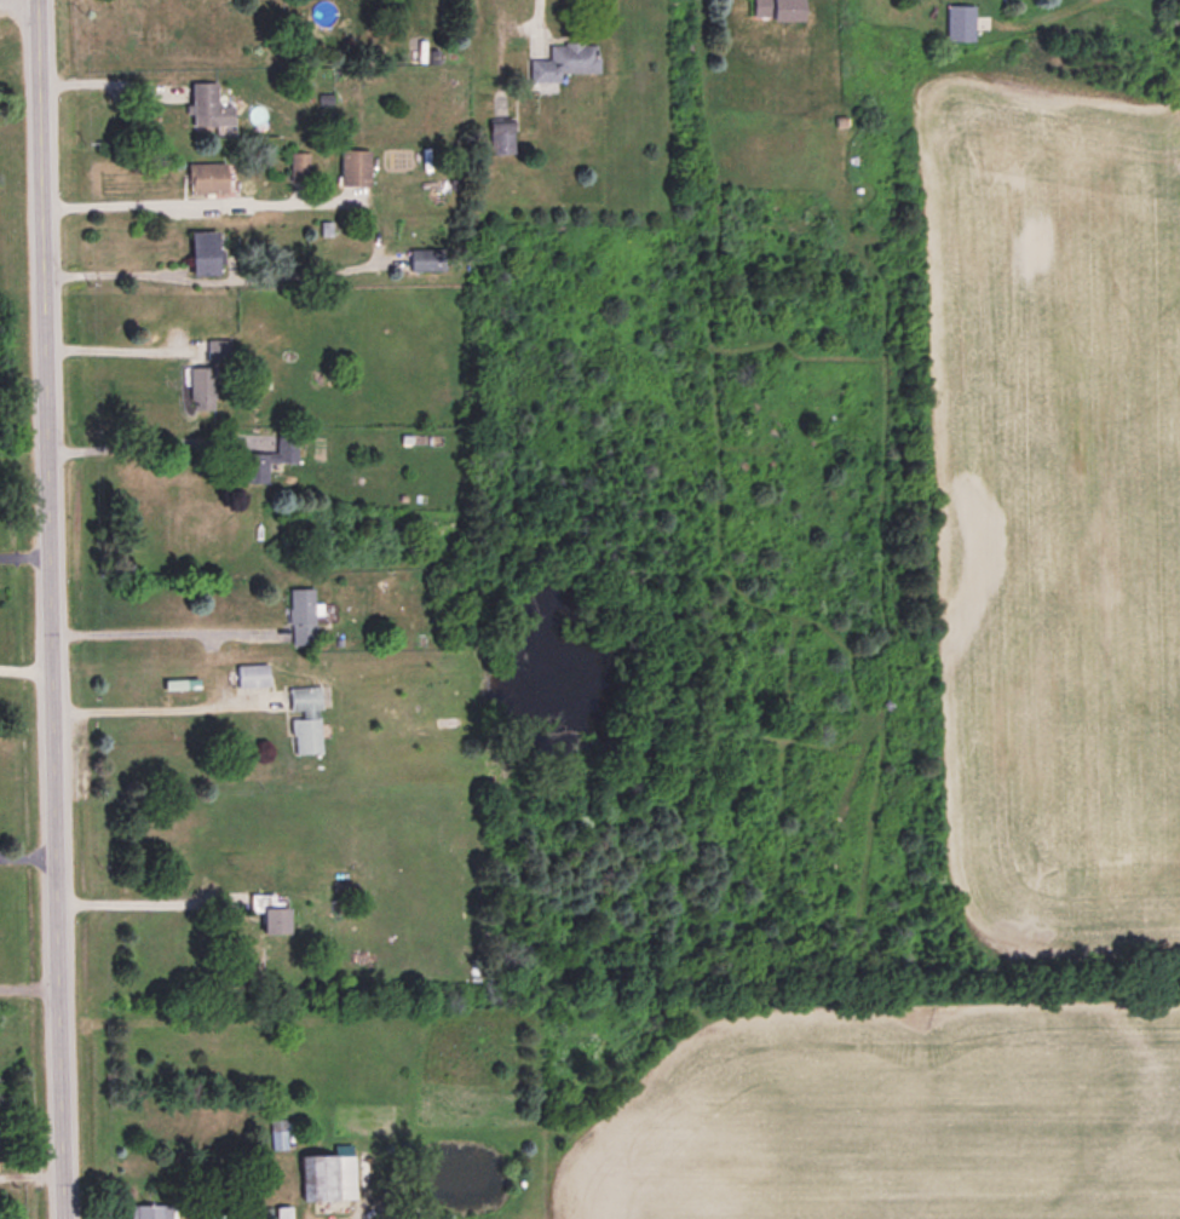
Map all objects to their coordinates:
building: (782, 8)
road: (540, 16)
building: (962, 21)
building: (568, 59)
building: (212, 107)
building: (505, 137)
building: (357, 167)
building: (212, 177)
road: (196, 197)
building: (208, 252)
road: (110, 347)
building: (205, 386)
building: (271, 456)
road: (24, 554)
road: (50, 609)
building: (303, 615)
road: (160, 632)
building: (254, 673)
road: (144, 708)
building: (306, 717)
road: (28, 855)
road: (136, 901)
building: (275, 908)
road: (29, 987)
building: (280, 1131)
building: (332, 1173)
building: (154, 1209)

